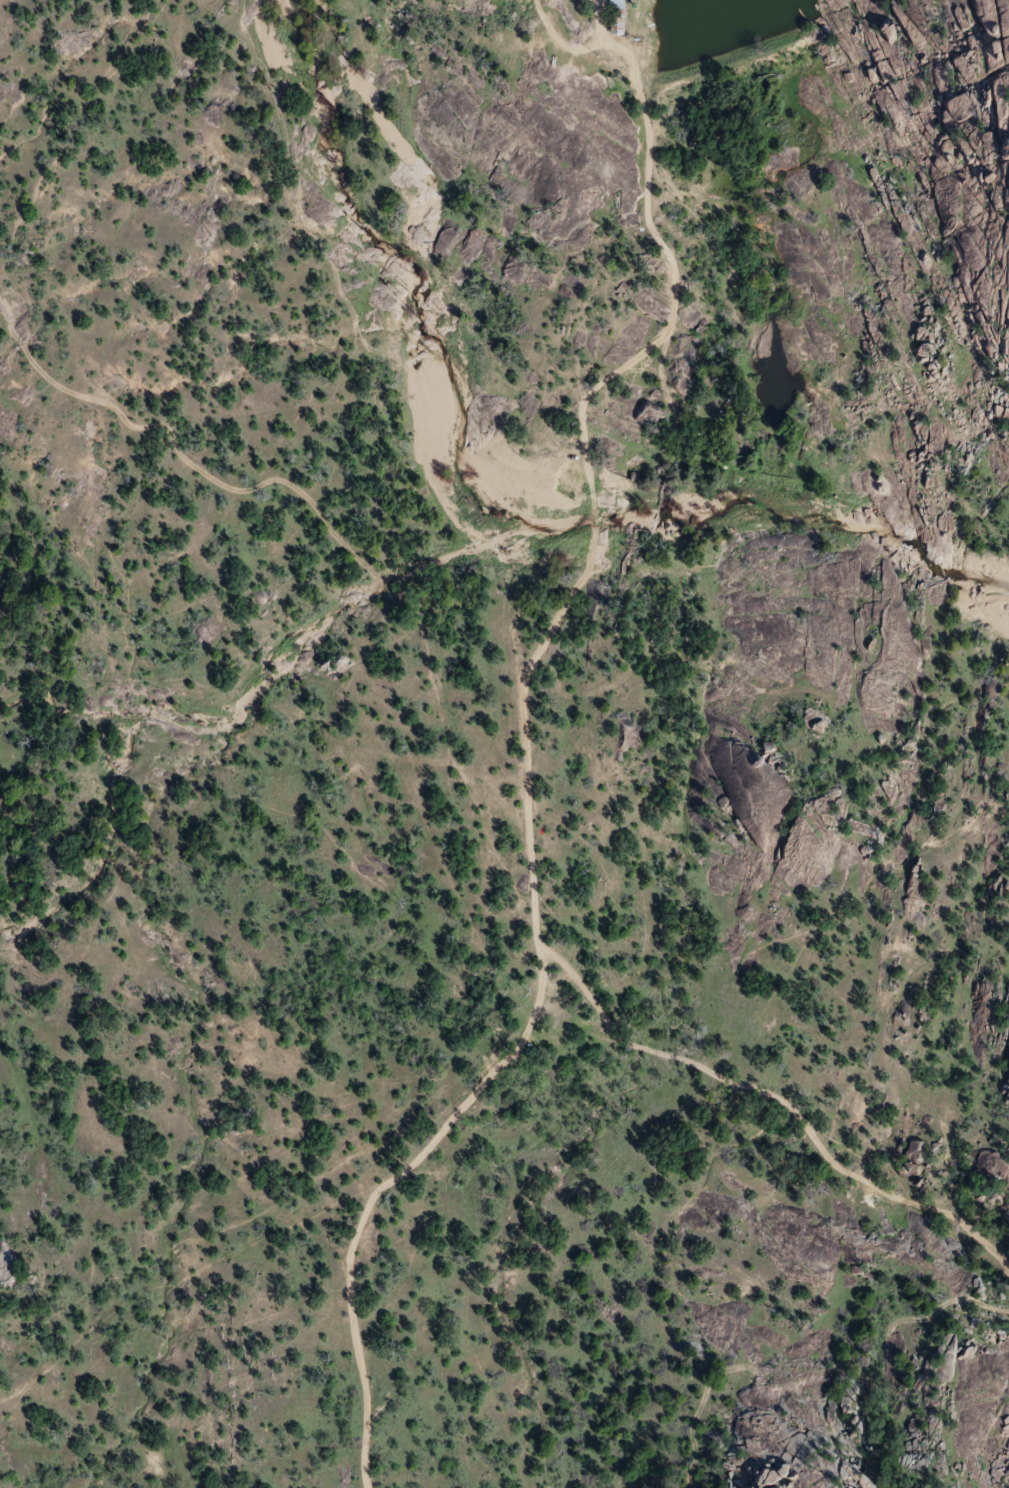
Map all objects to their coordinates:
building: (617, 18)
road: (534, 740)

